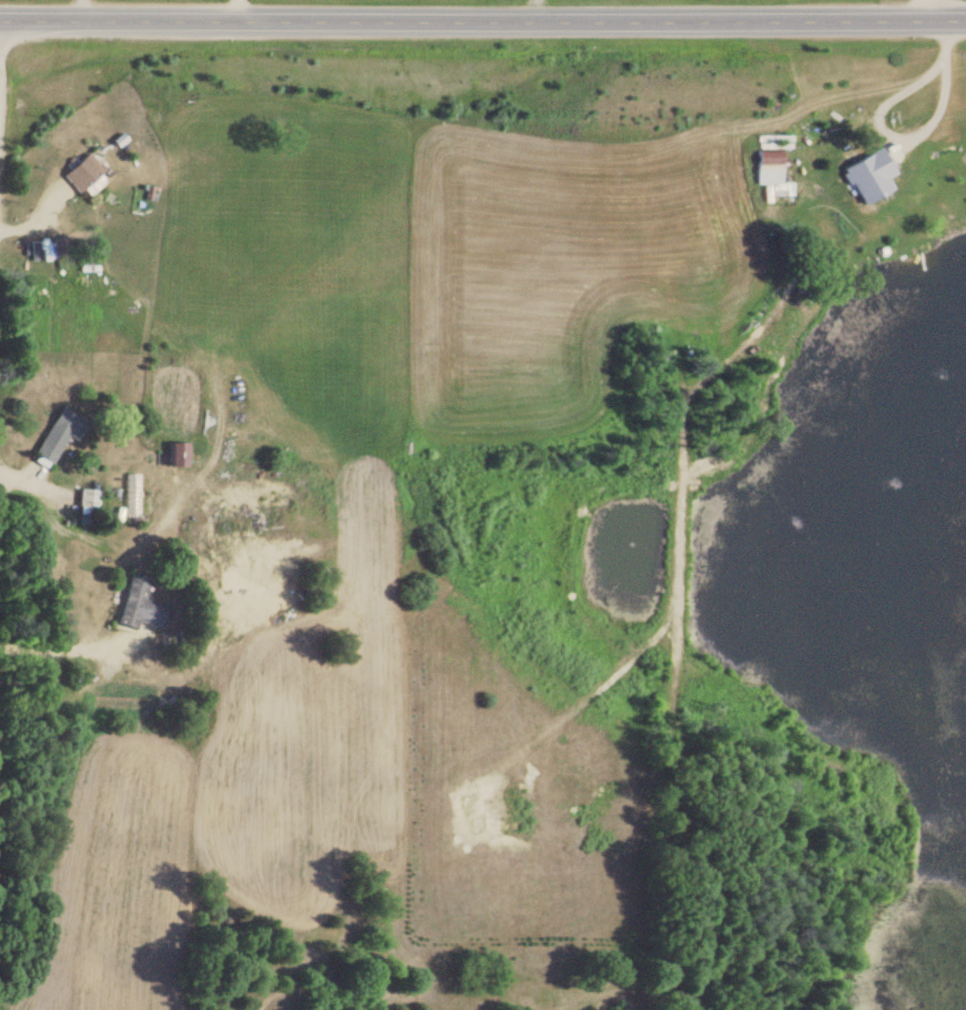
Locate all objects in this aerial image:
road: (483, 20)
building: (867, 168)
building: (771, 173)
building: (81, 175)
building: (60, 434)
building: (178, 454)
building: (139, 605)

